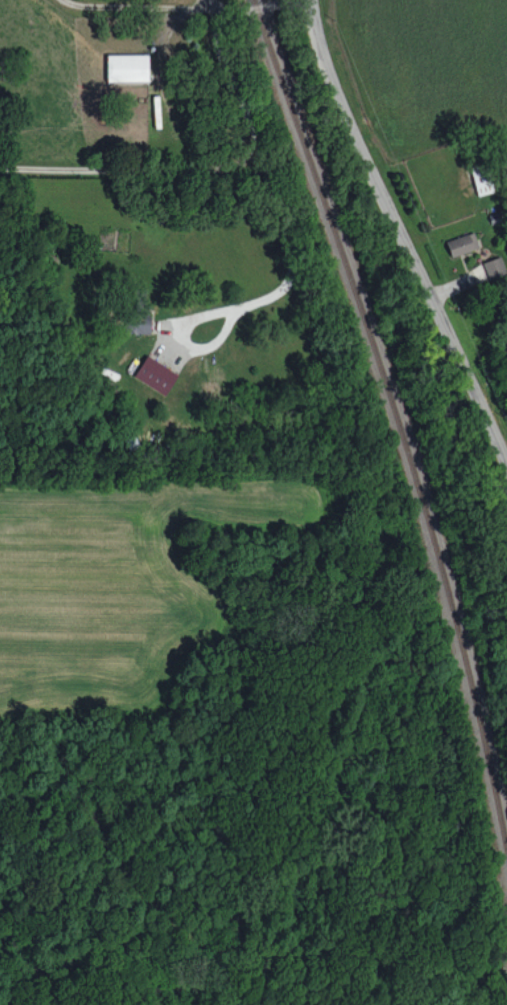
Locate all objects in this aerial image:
road: (205, 3)
building: (127, 67)
road: (261, 155)
road: (131, 169)
building: (482, 180)
road: (396, 235)
building: (462, 243)
building: (494, 267)
building: (138, 320)
building: (155, 374)
railway: (393, 426)

